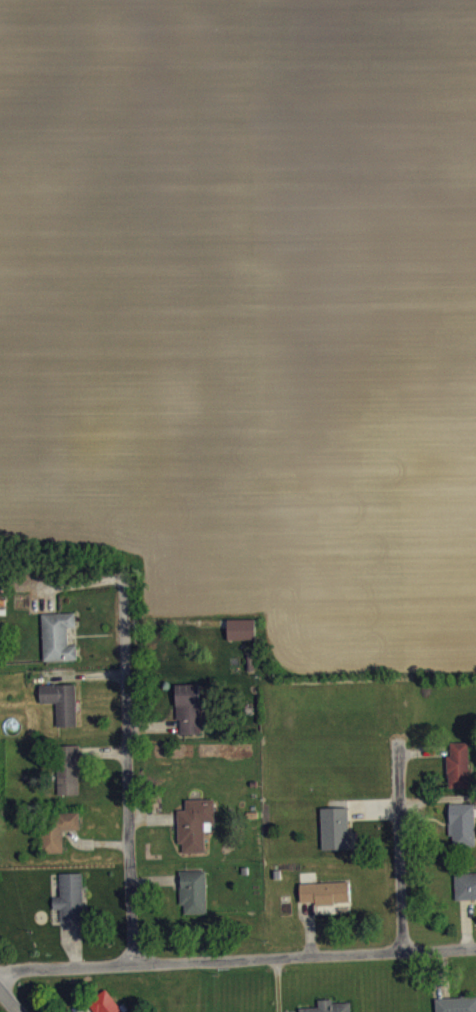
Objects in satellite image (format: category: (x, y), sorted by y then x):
building: (242, 640)
building: (58, 647)
building: (62, 713)
building: (189, 719)
road: (123, 772)
building: (459, 775)
building: (69, 780)
building: (195, 834)
building: (462, 835)
building: (335, 839)
building: (58, 841)
road: (399, 844)
building: (465, 884)
building: (194, 902)
building: (326, 903)
building: (71, 908)
road: (237, 957)
road: (8, 1001)
building: (456, 1004)
building: (104, 1007)
building: (325, 1011)

